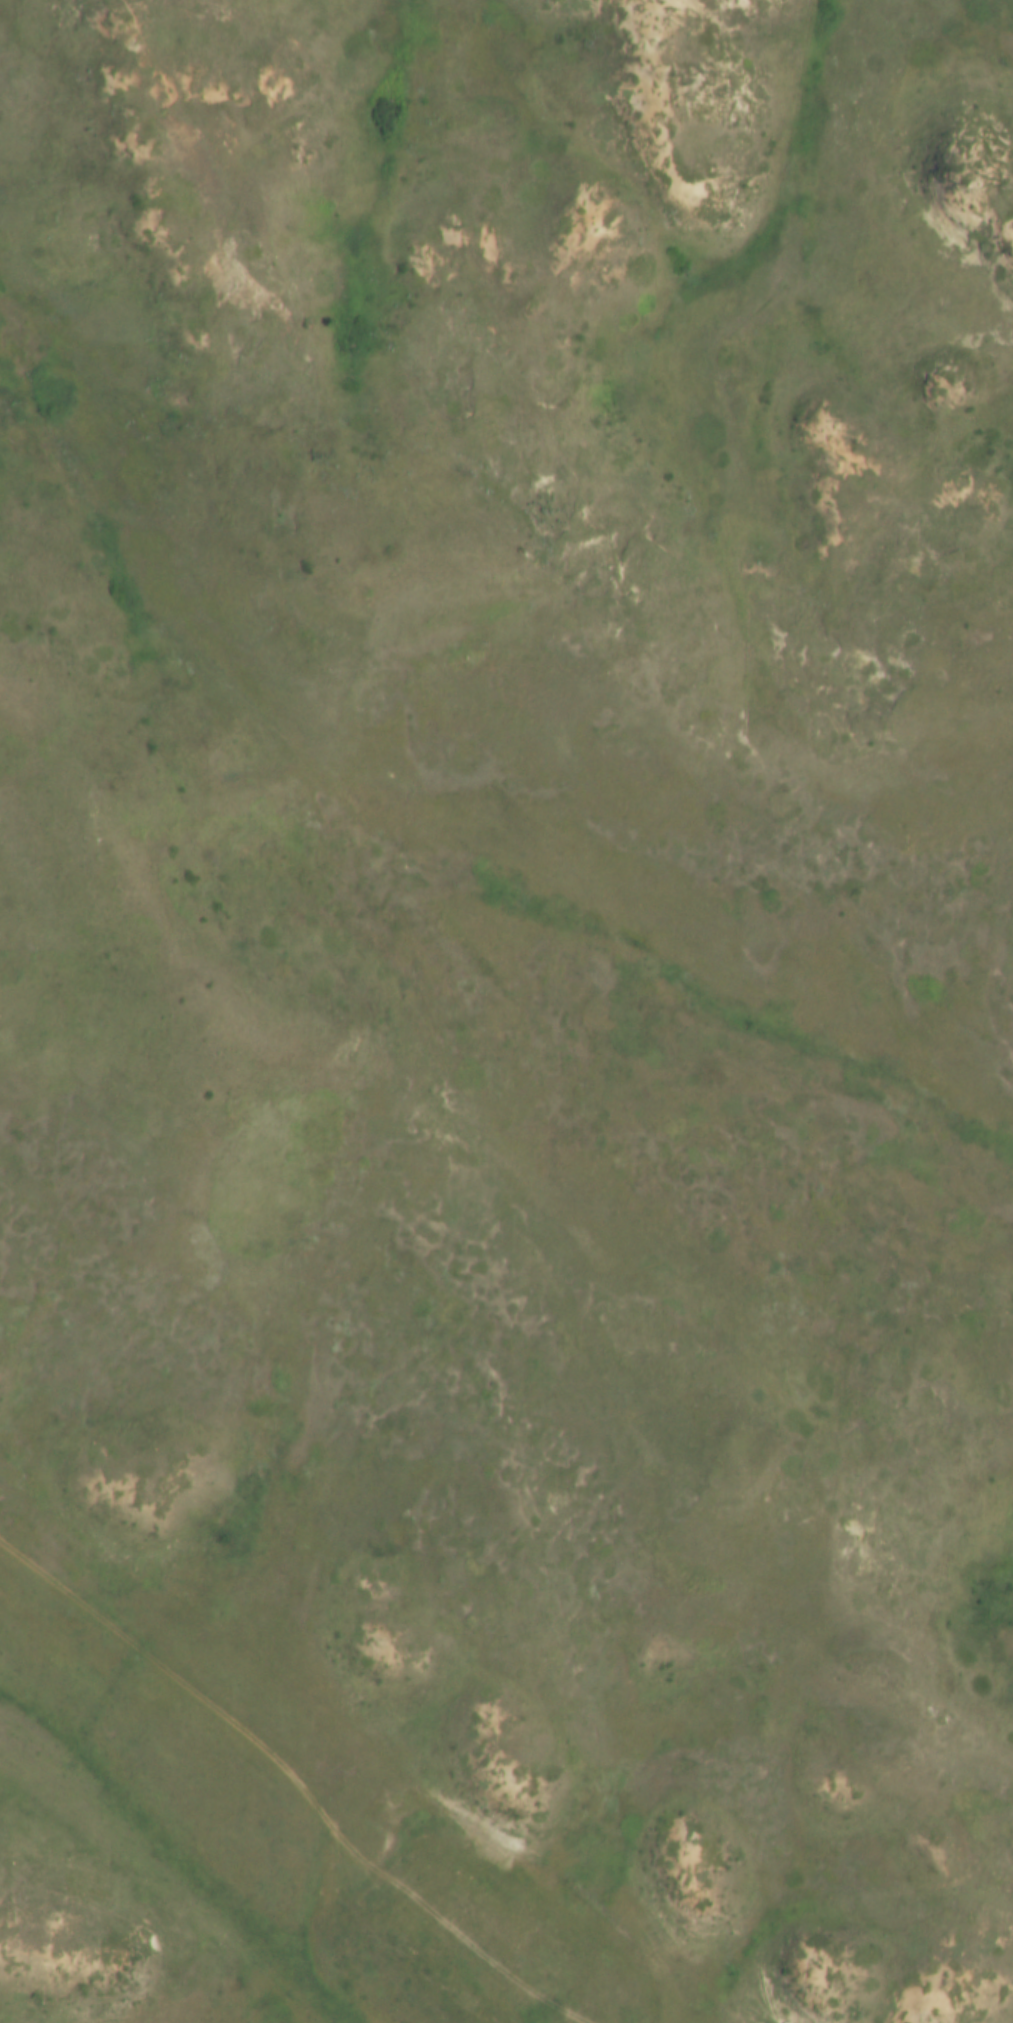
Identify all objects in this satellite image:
road: (295, 1778)

